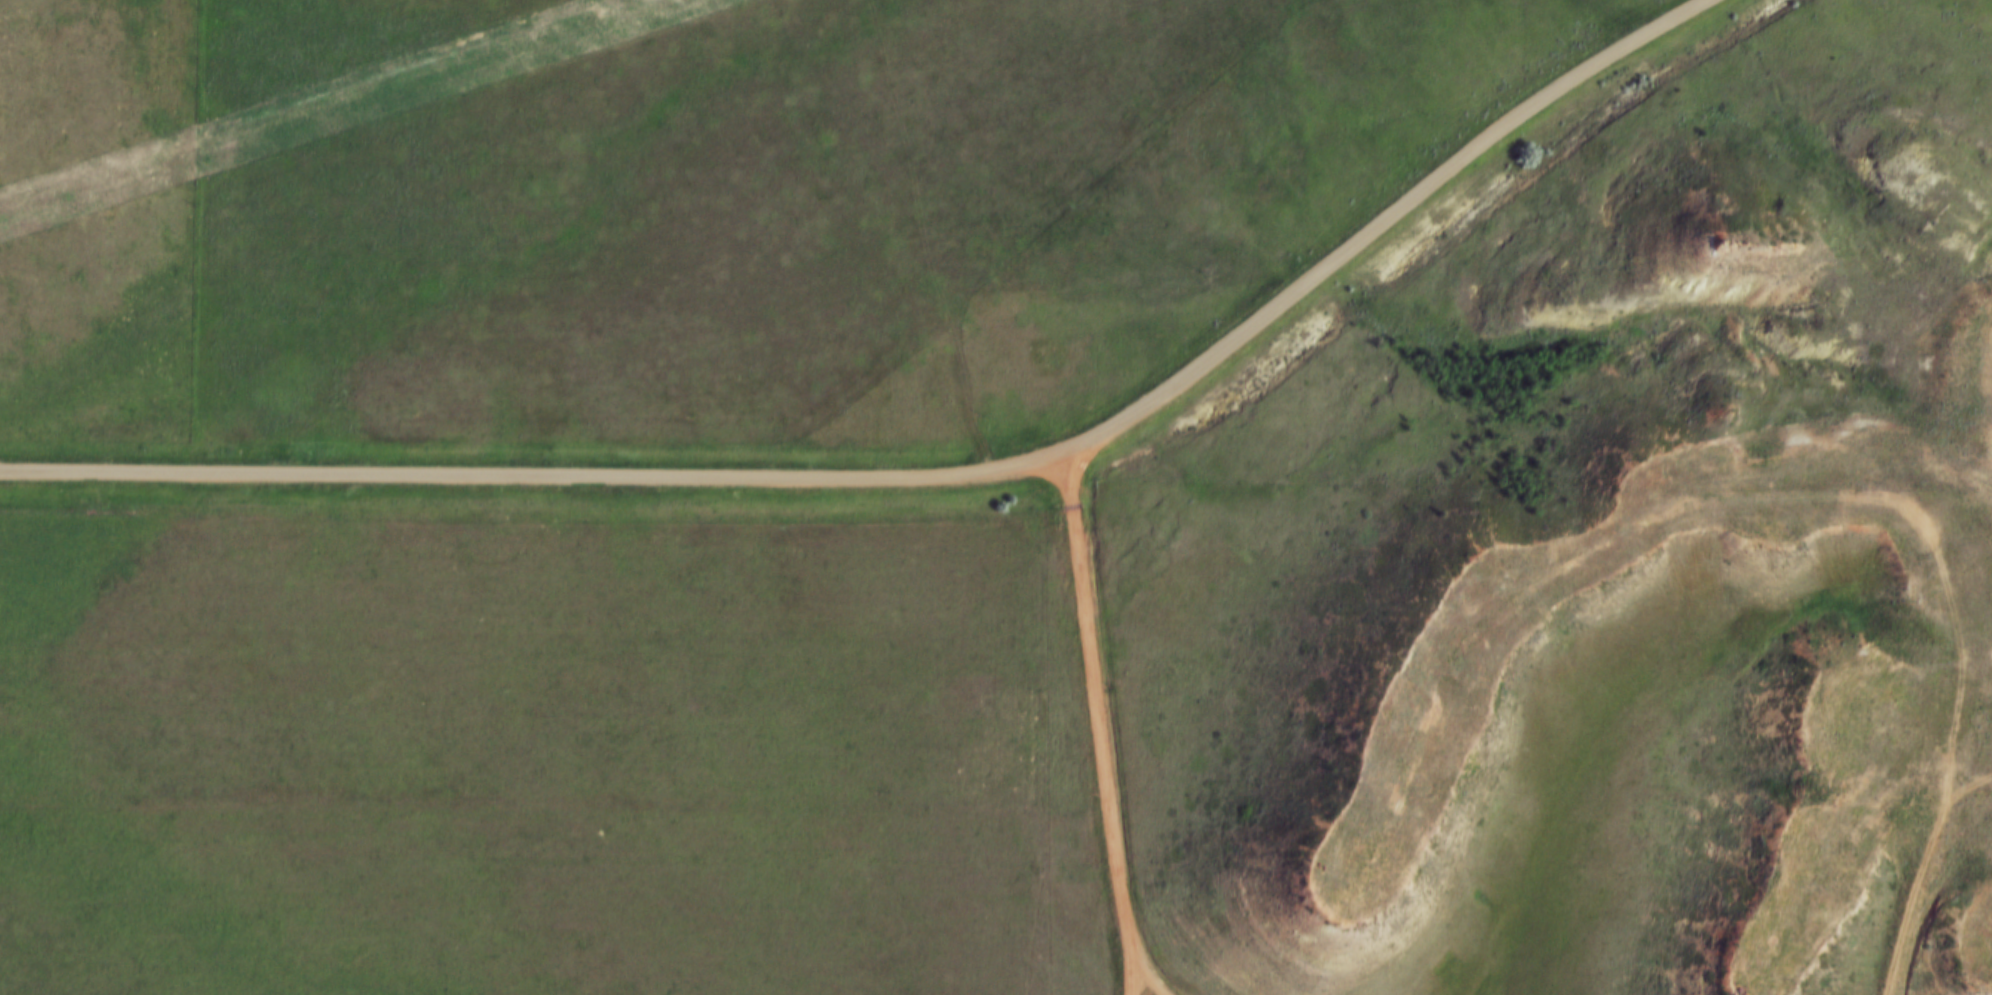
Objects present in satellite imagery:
road: (927, 480)
road: (1109, 728)
quarry: (1885, 735)
road: (1920, 875)

